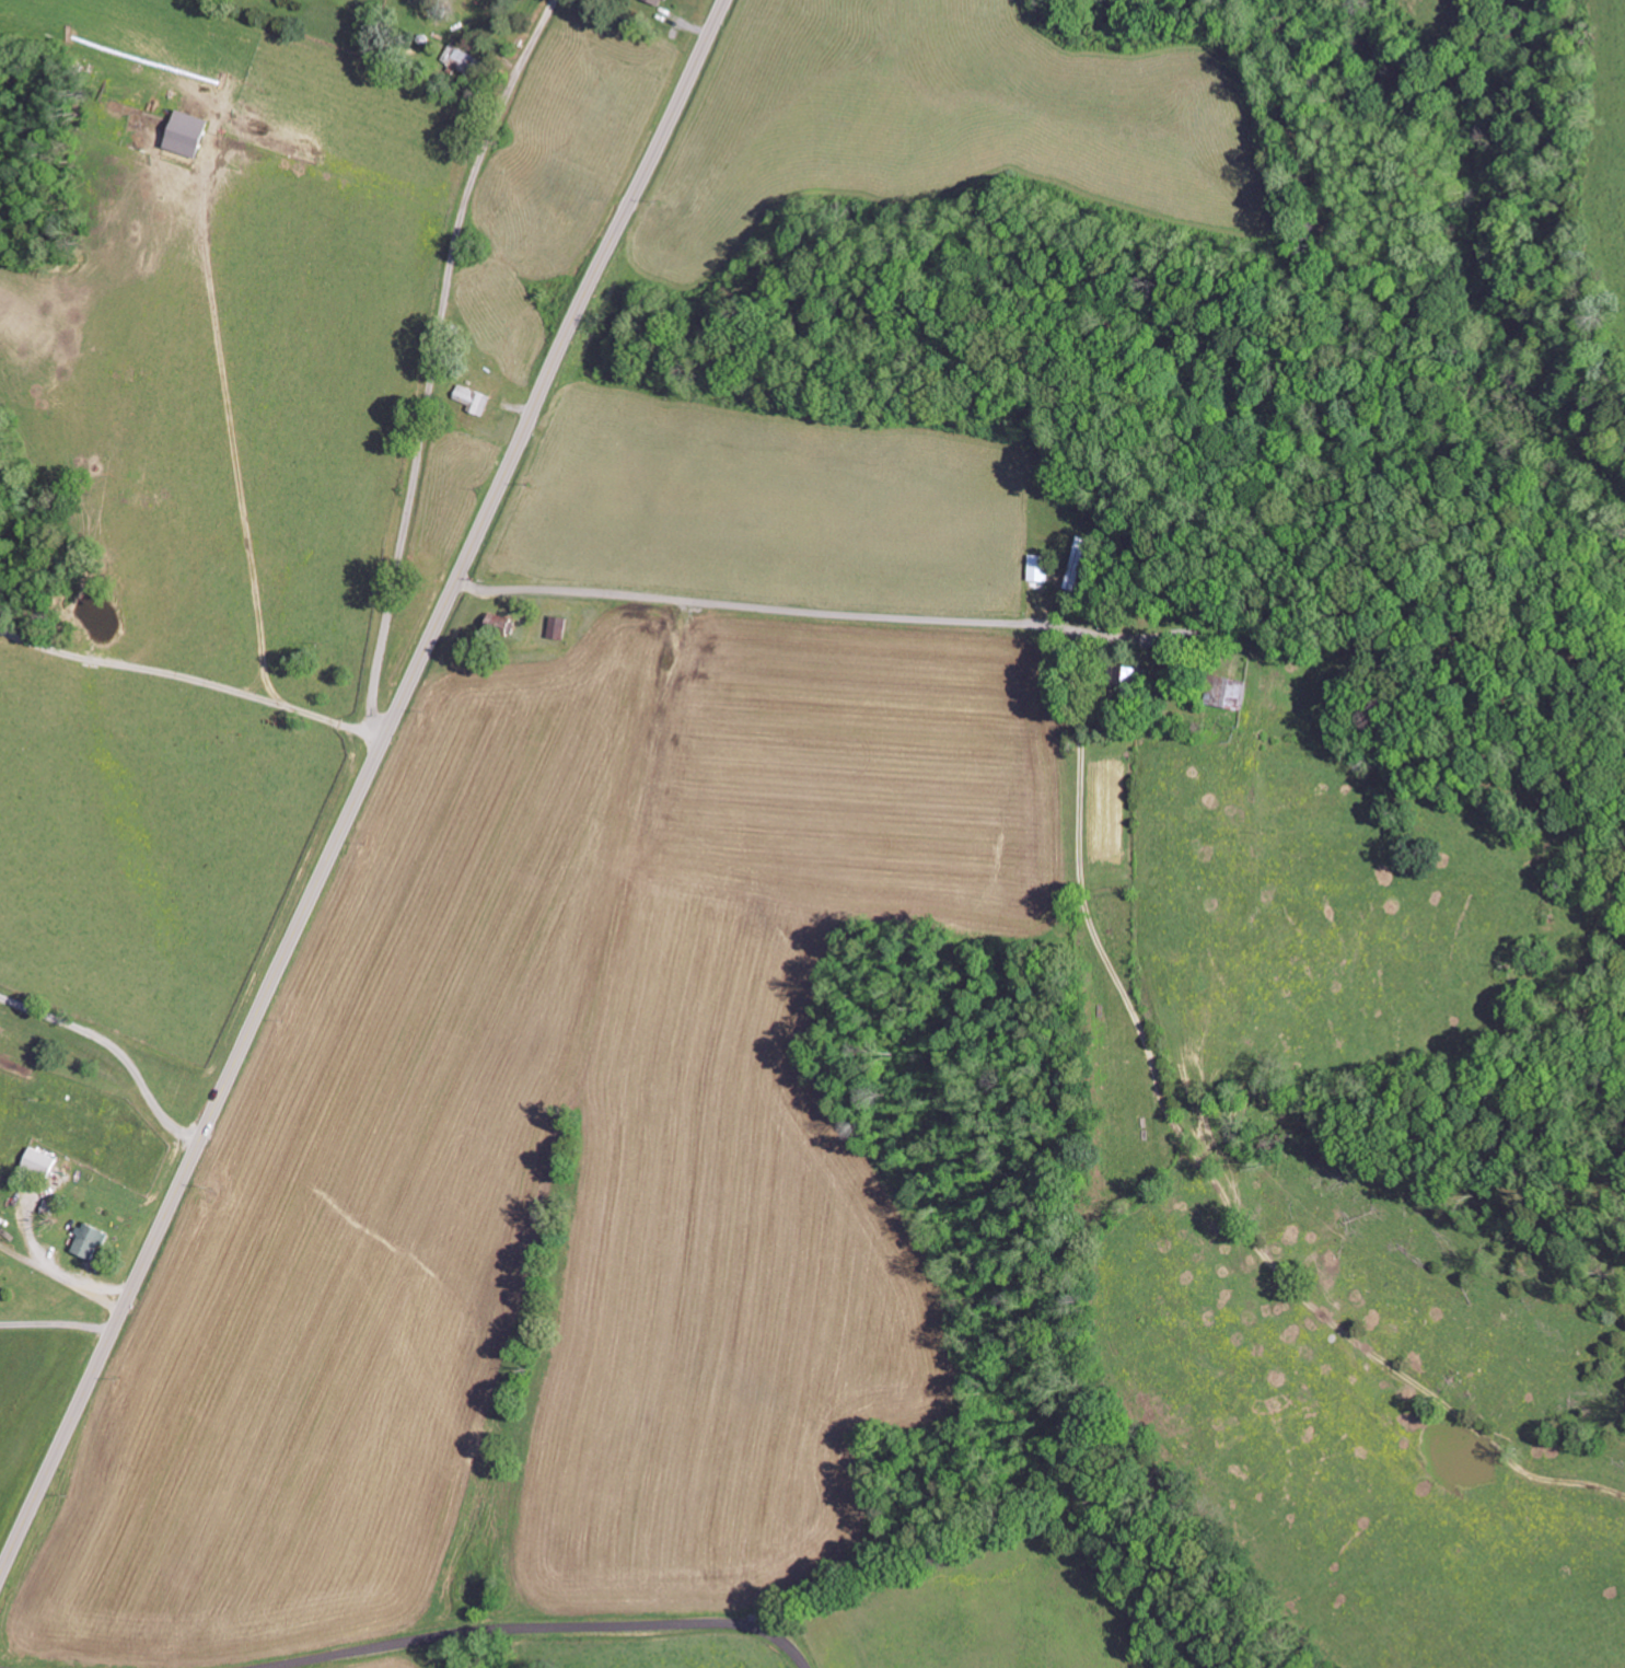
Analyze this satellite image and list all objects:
building: (462, 58)
building: (188, 132)
road: (615, 242)
road: (438, 366)
building: (475, 398)
building: (1040, 567)
road: (765, 609)
building: (558, 627)
building: (1231, 692)
road: (252, 1030)
road: (115, 1051)
building: (40, 1162)
building: (91, 1240)
road: (541, 1630)

